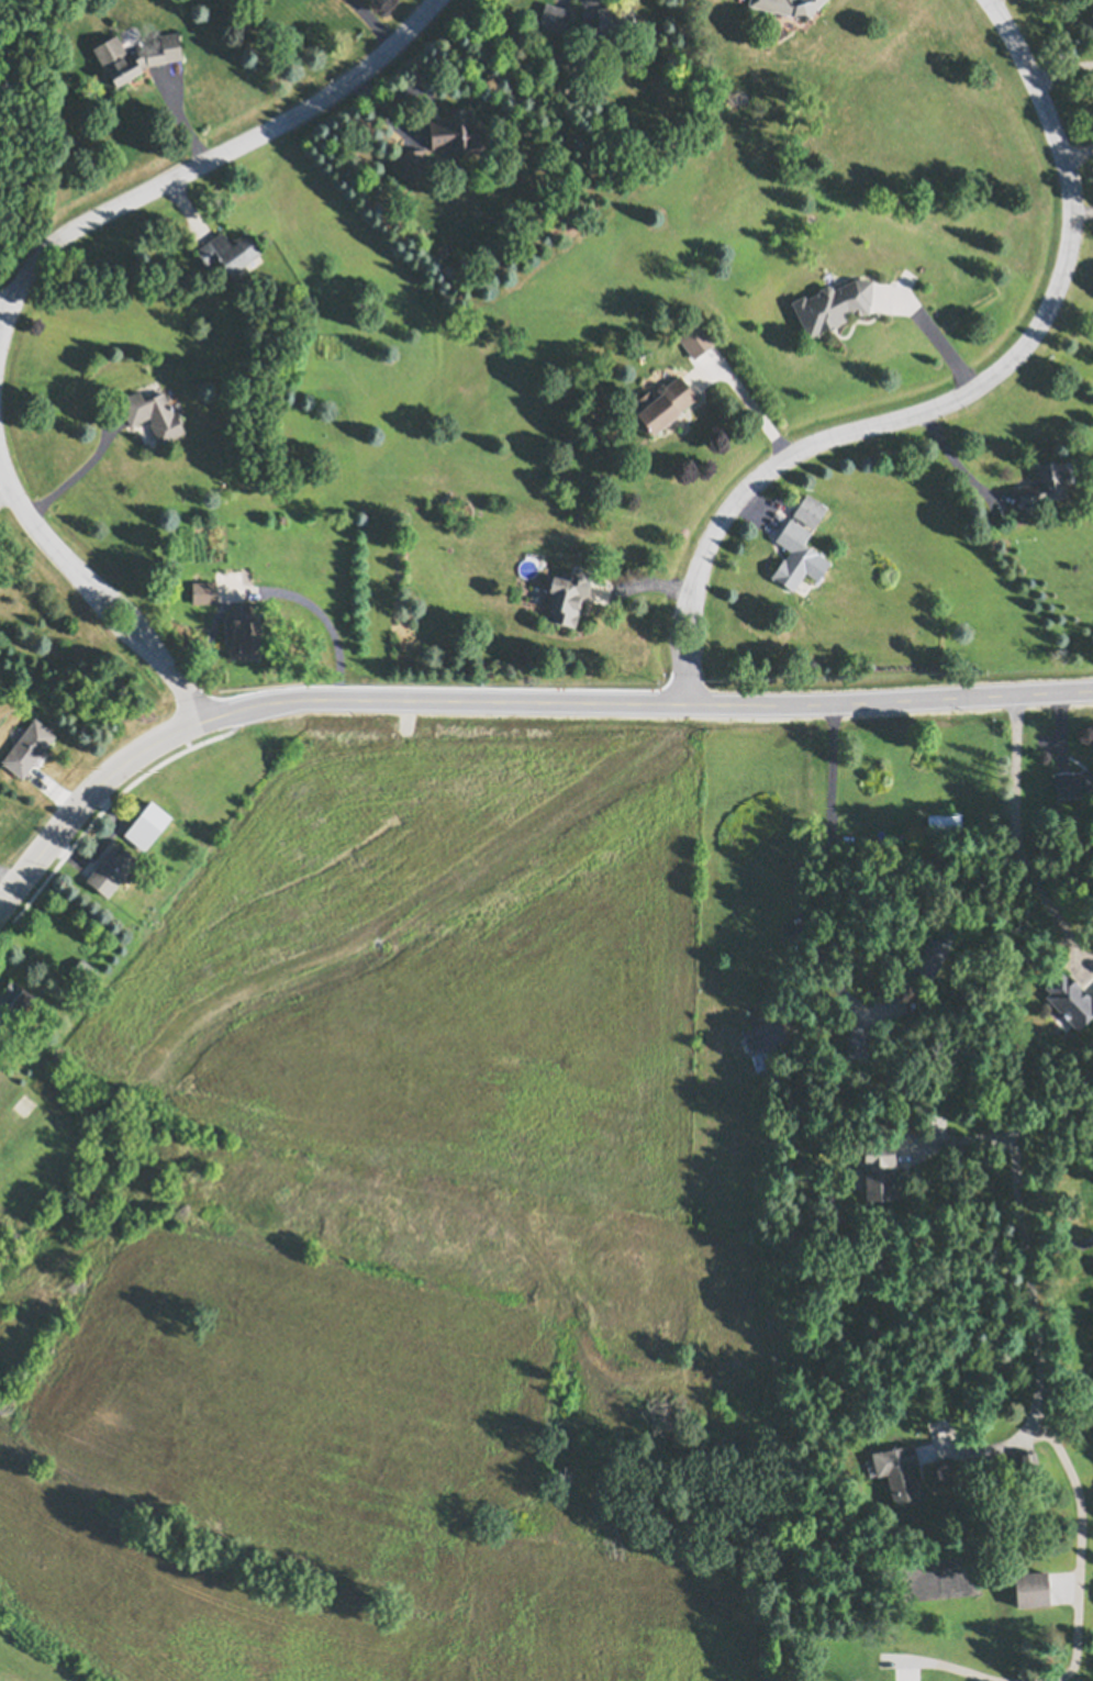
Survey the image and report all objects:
building: (789, 5)
building: (555, 16)
building: (610, 16)
building: (772, 21)
road: (375, 23)
building: (135, 54)
building: (456, 130)
building: (414, 162)
road: (207, 164)
building: (228, 249)
building: (834, 303)
road: (4, 312)
road: (935, 336)
road: (956, 399)
building: (665, 403)
road: (754, 409)
building: (153, 413)
road: (71, 467)
building: (1045, 486)
building: (810, 510)
building: (793, 553)
road: (278, 589)
building: (204, 591)
road: (97, 592)
building: (567, 595)
building: (243, 632)
road: (649, 710)
building: (29, 747)
building: (1073, 783)
road: (88, 798)
building: (945, 822)
building: (147, 825)
road: (1023, 839)
building: (112, 870)
road: (815, 875)
building: (932, 957)
building: (85, 972)
building: (1070, 1000)
building: (13, 1003)
building: (912, 1003)
building: (765, 1038)
building: (856, 1040)
road: (966, 1138)
building: (877, 1171)
road: (1025, 1183)
road: (991, 1451)
building: (1029, 1463)
building: (897, 1473)
road: (1088, 1538)
building: (1031, 1589)

